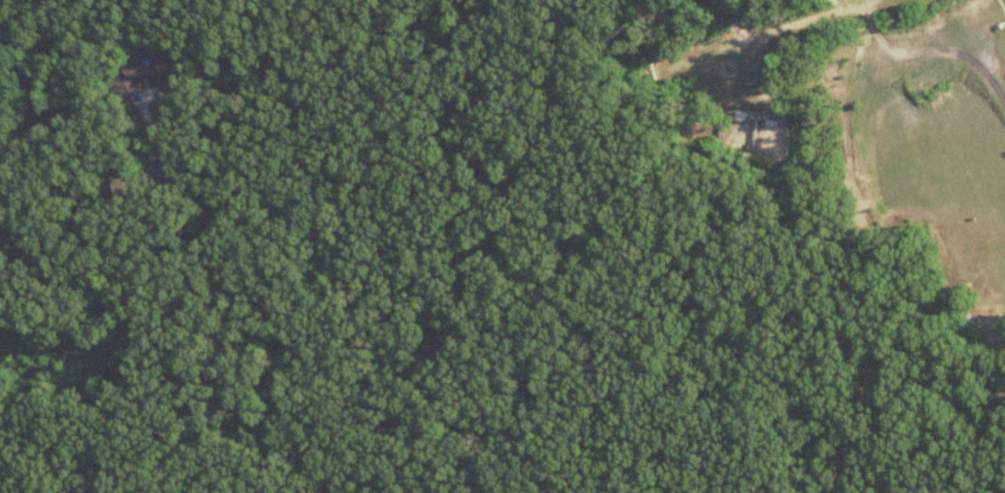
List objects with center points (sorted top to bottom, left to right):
road: (932, 47)
building: (147, 73)
building: (129, 184)
road: (127, 250)

